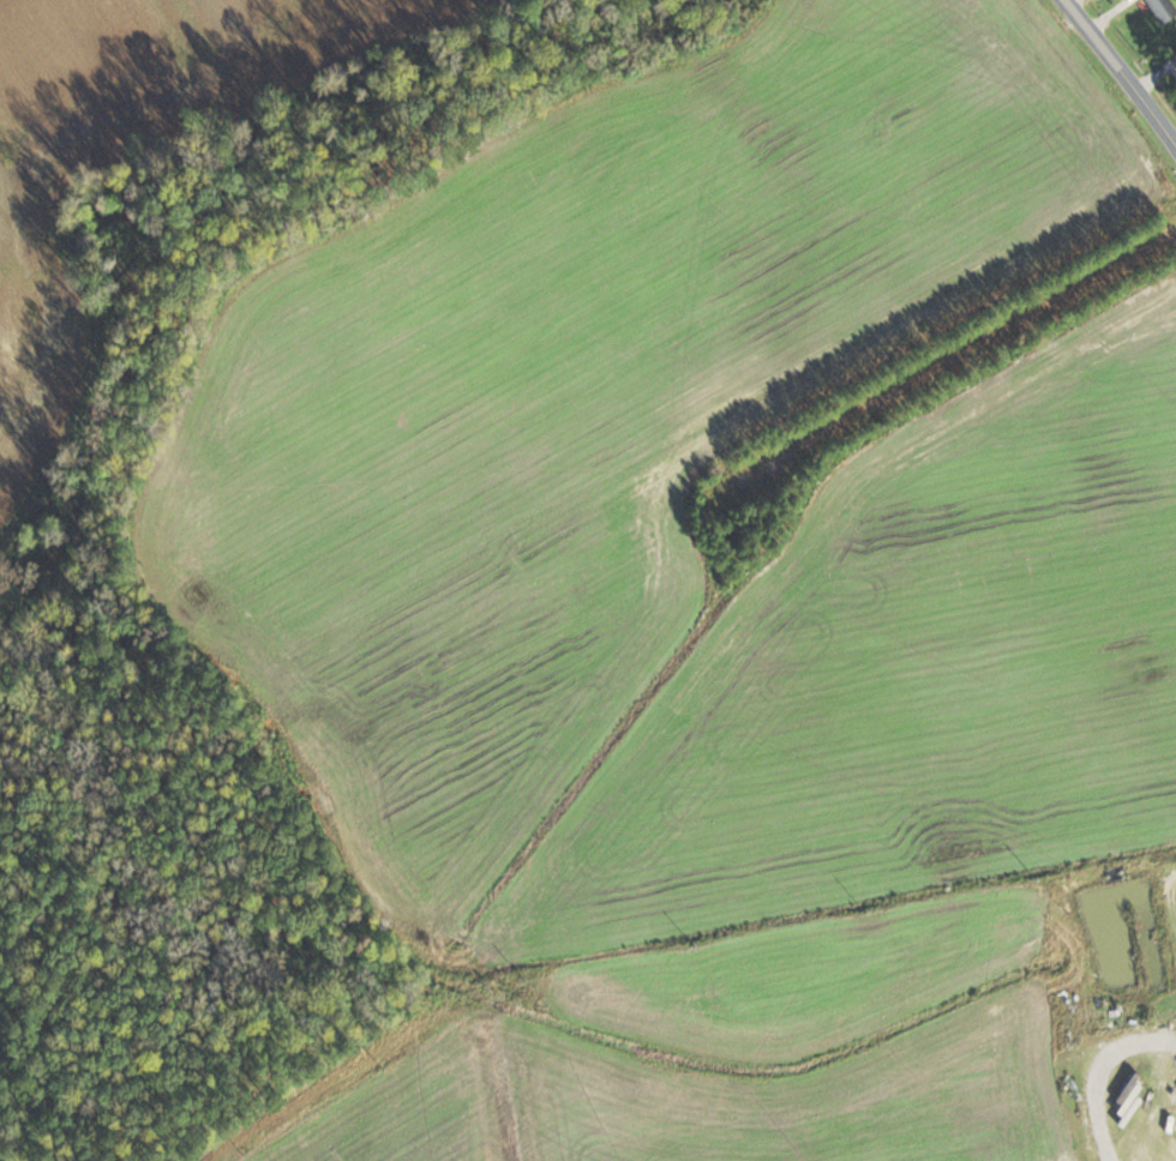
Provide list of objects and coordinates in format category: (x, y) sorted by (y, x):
building: (1162, 10)
road: (1122, 70)
road: (1092, 1067)

